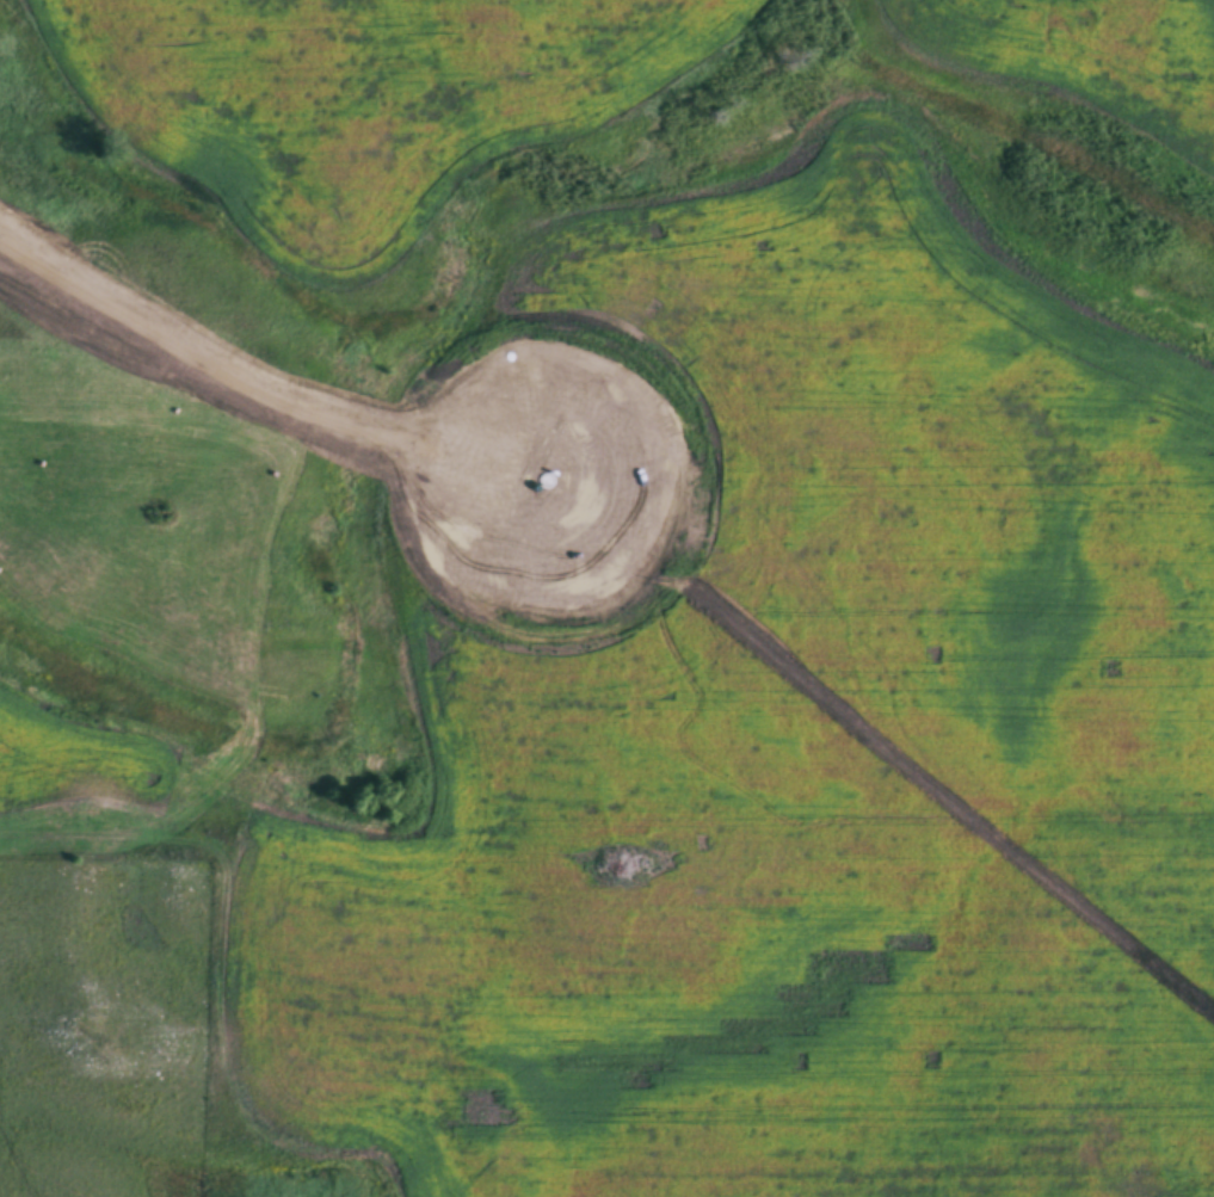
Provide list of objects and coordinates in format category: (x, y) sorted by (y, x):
wind turbine: (553, 495)

